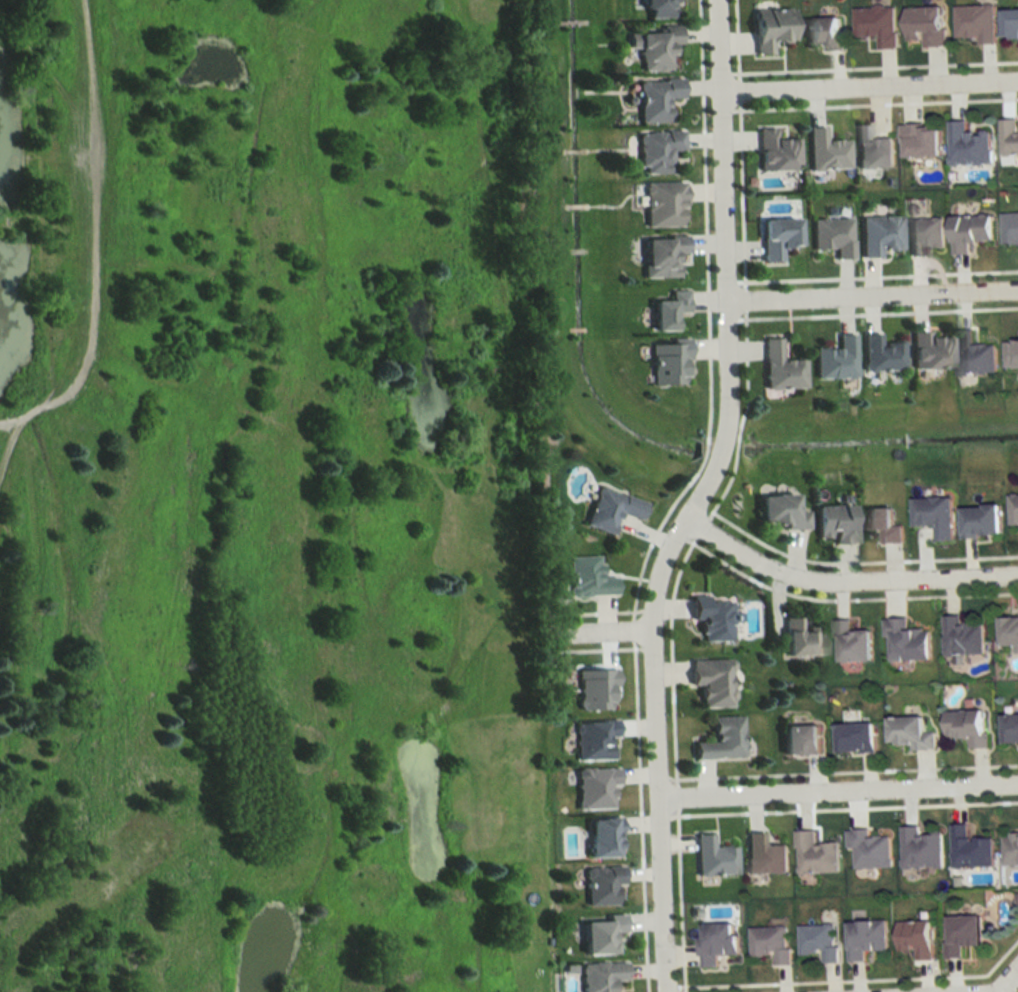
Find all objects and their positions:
building: (656, 9)
building: (976, 23)
building: (877, 24)
building: (927, 25)
building: (1010, 25)
building: (768, 28)
building: (824, 33)
building: (651, 46)
road: (868, 88)
building: (653, 99)
building: (1008, 136)
building: (922, 140)
building: (969, 144)
building: (872, 149)
building: (654, 151)
building: (773, 151)
building: (823, 151)
building: (660, 204)
building: (1010, 227)
building: (971, 232)
building: (876, 234)
building: (924, 235)
building: (830, 237)
building: (773, 238)
building: (659, 256)
road: (871, 297)
building: (665, 311)
building: (927, 351)
building: (1012, 354)
building: (879, 355)
building: (975, 356)
building: (834, 360)
building: (666, 362)
building: (779, 368)
road: (693, 496)
building: (609, 509)
building: (1013, 509)
building: (779, 512)
building: (934, 515)
building: (980, 521)
building: (833, 523)
building: (881, 524)
building: (586, 578)
road: (840, 584)
building: (711, 618)
road: (598, 631)
building: (1009, 632)
building: (961, 637)
building: (799, 640)
building: (906, 641)
building: (851, 643)
building: (712, 682)
building: (593, 690)
building: (967, 728)
building: (1009, 731)
building: (908, 734)
building: (854, 738)
building: (593, 740)
building: (721, 740)
building: (799, 740)
road: (837, 786)
building: (594, 788)
building: (601, 838)
building: (920, 849)
building: (970, 849)
building: (1010, 849)
building: (868, 850)
building: (814, 855)
building: (764, 856)
building: (713, 858)
building: (602, 885)
building: (599, 934)
building: (961, 934)
building: (865, 939)
building: (915, 939)
building: (818, 942)
building: (715, 944)
building: (770, 944)
building: (601, 976)
road: (1007, 979)

